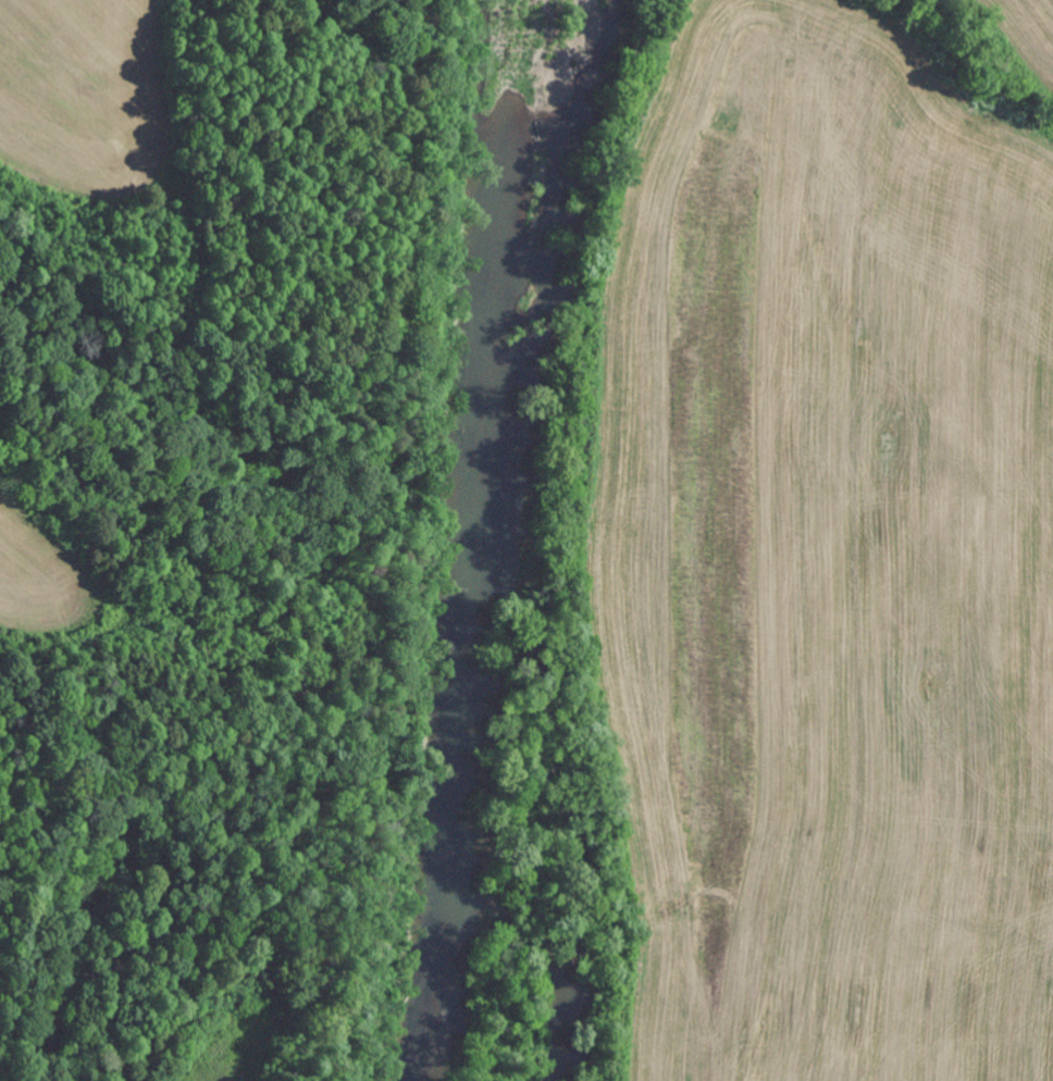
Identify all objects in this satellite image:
river: (476, 534)

